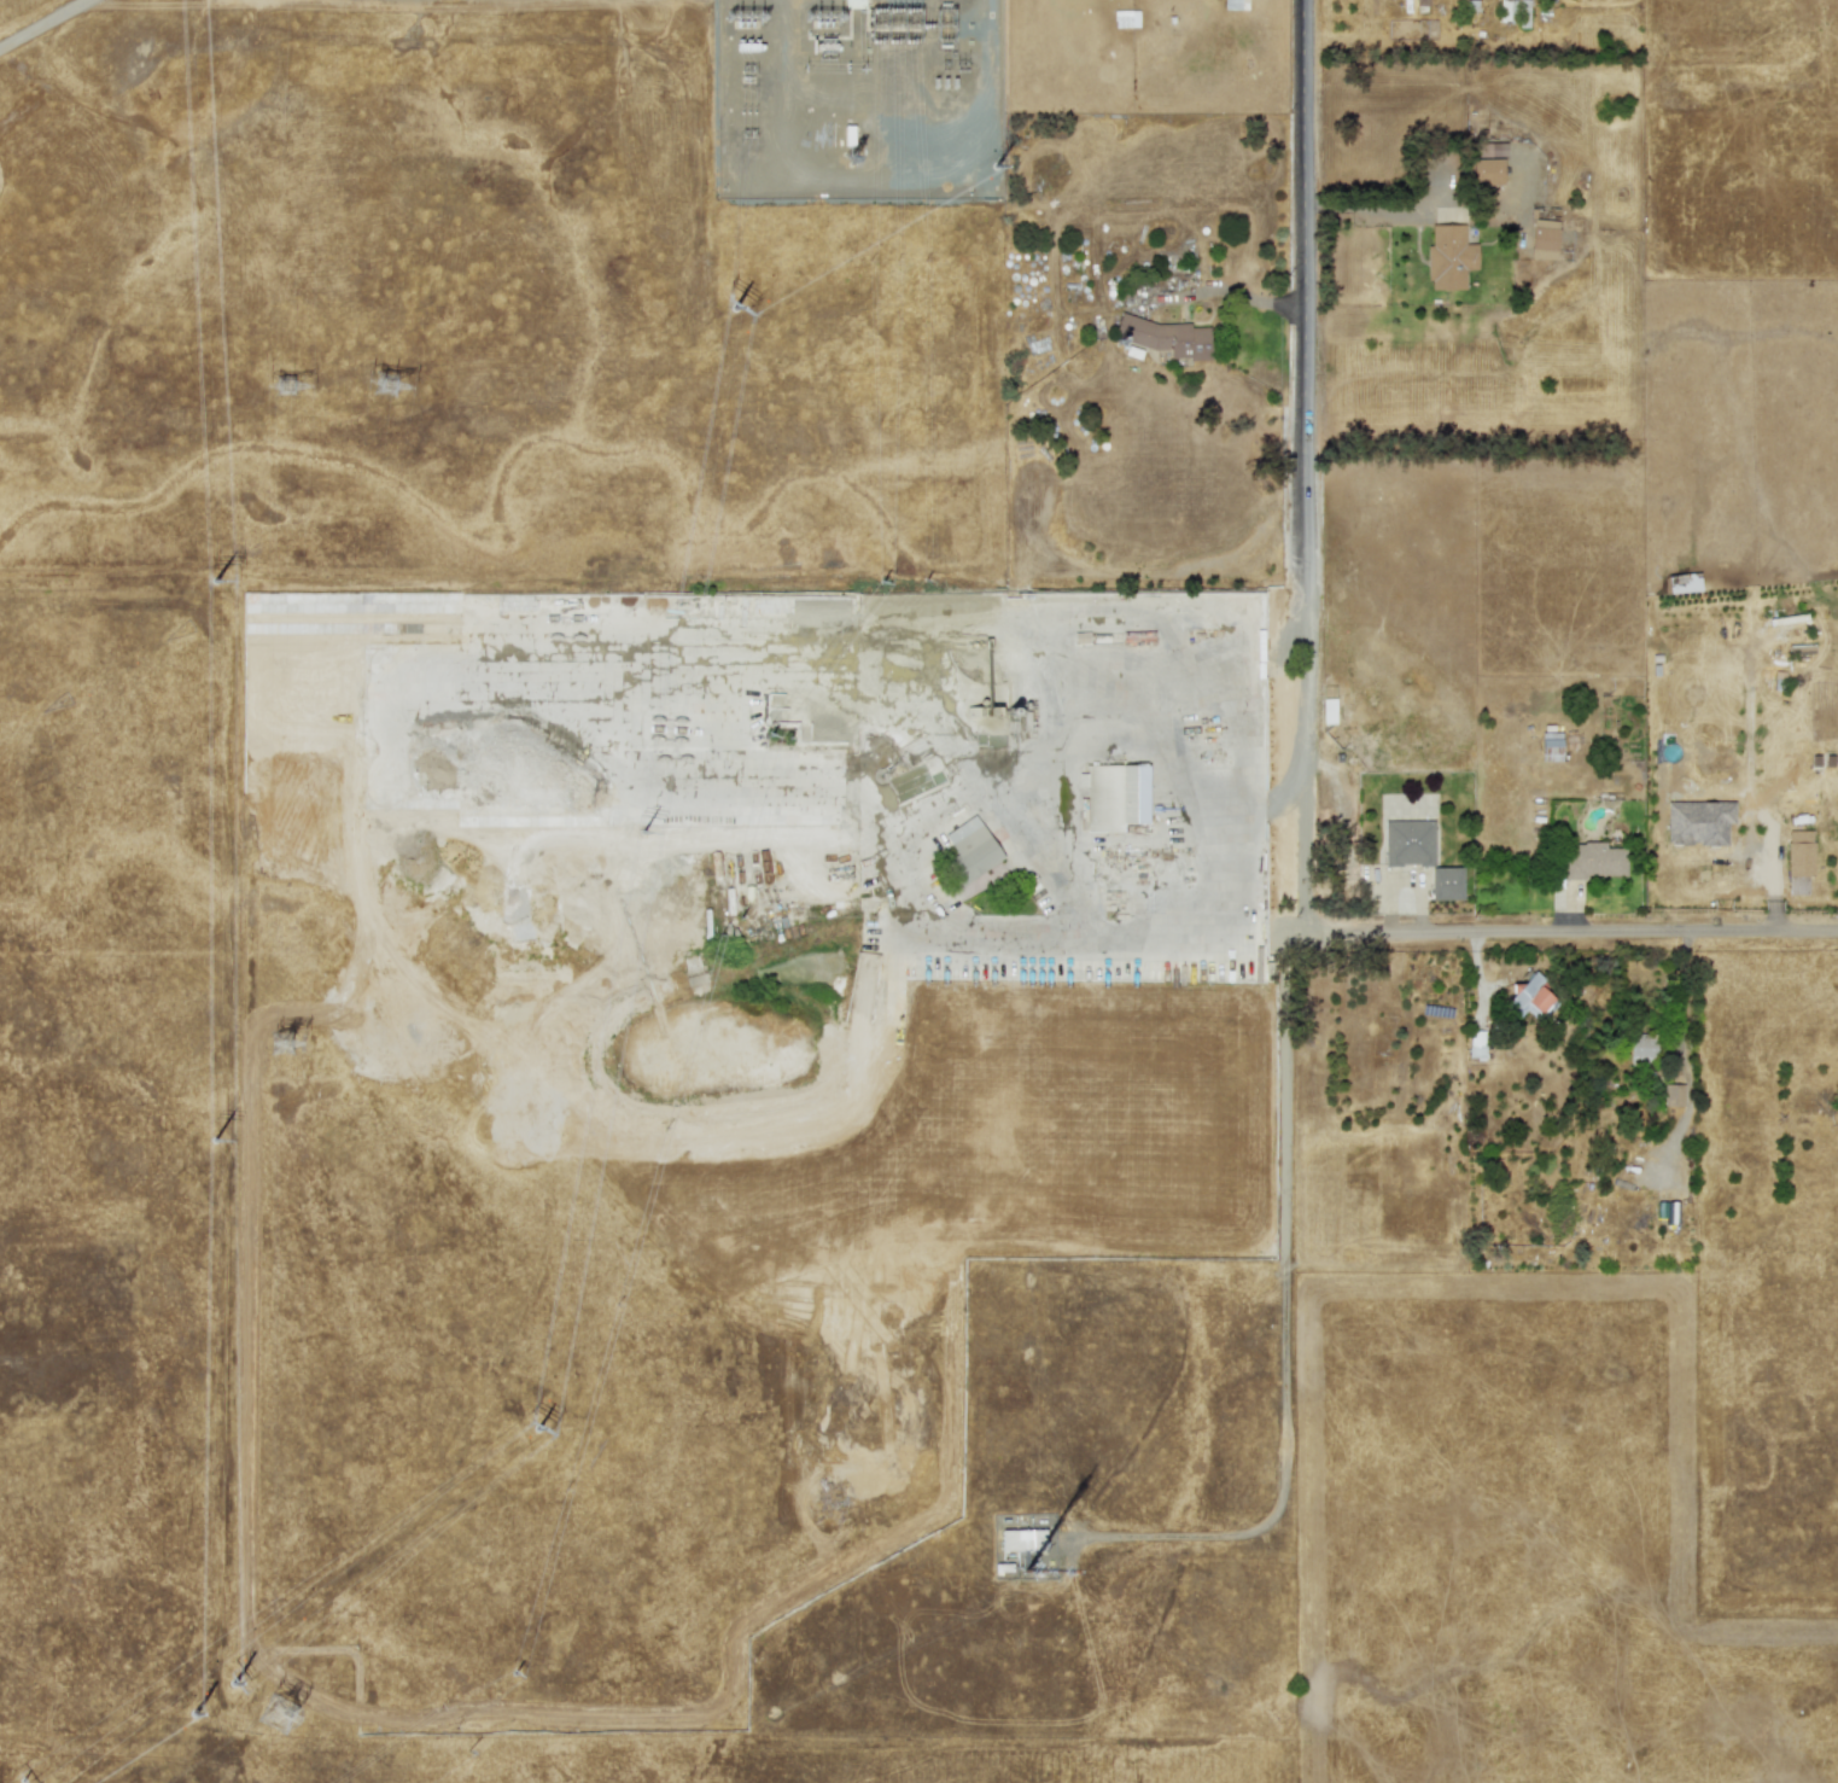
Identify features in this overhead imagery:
building: (853, 4)
building: (1507, 11)
power tower: (743, 18)
road: (42, 24)
power substation: (862, 99)
building: (1489, 148)
building: (1487, 171)
building: (1544, 239)
building: (1448, 256)
road: (1241, 293)
building: (1166, 338)
power tower: (386, 386)
power tower: (286, 388)
road: (1305, 466)
building: (1684, 583)
road: (1097, 729)
building: (1550, 746)
road: (1173, 780)
road: (1254, 788)
building: (1111, 797)
road: (1337, 814)
road: (915, 820)
building: (1697, 822)
building: (1408, 843)
building: (970, 850)
building: (1799, 852)
building: (1592, 860)
building: (1446, 882)
road: (1402, 885)
road: (1367, 933)
building: (1528, 998)
building: (1476, 1043)
power tower: (282, 1045)
building: (1641, 1049)
building: (1673, 1094)
road: (1283, 1327)
power tower: (279, 1717)

